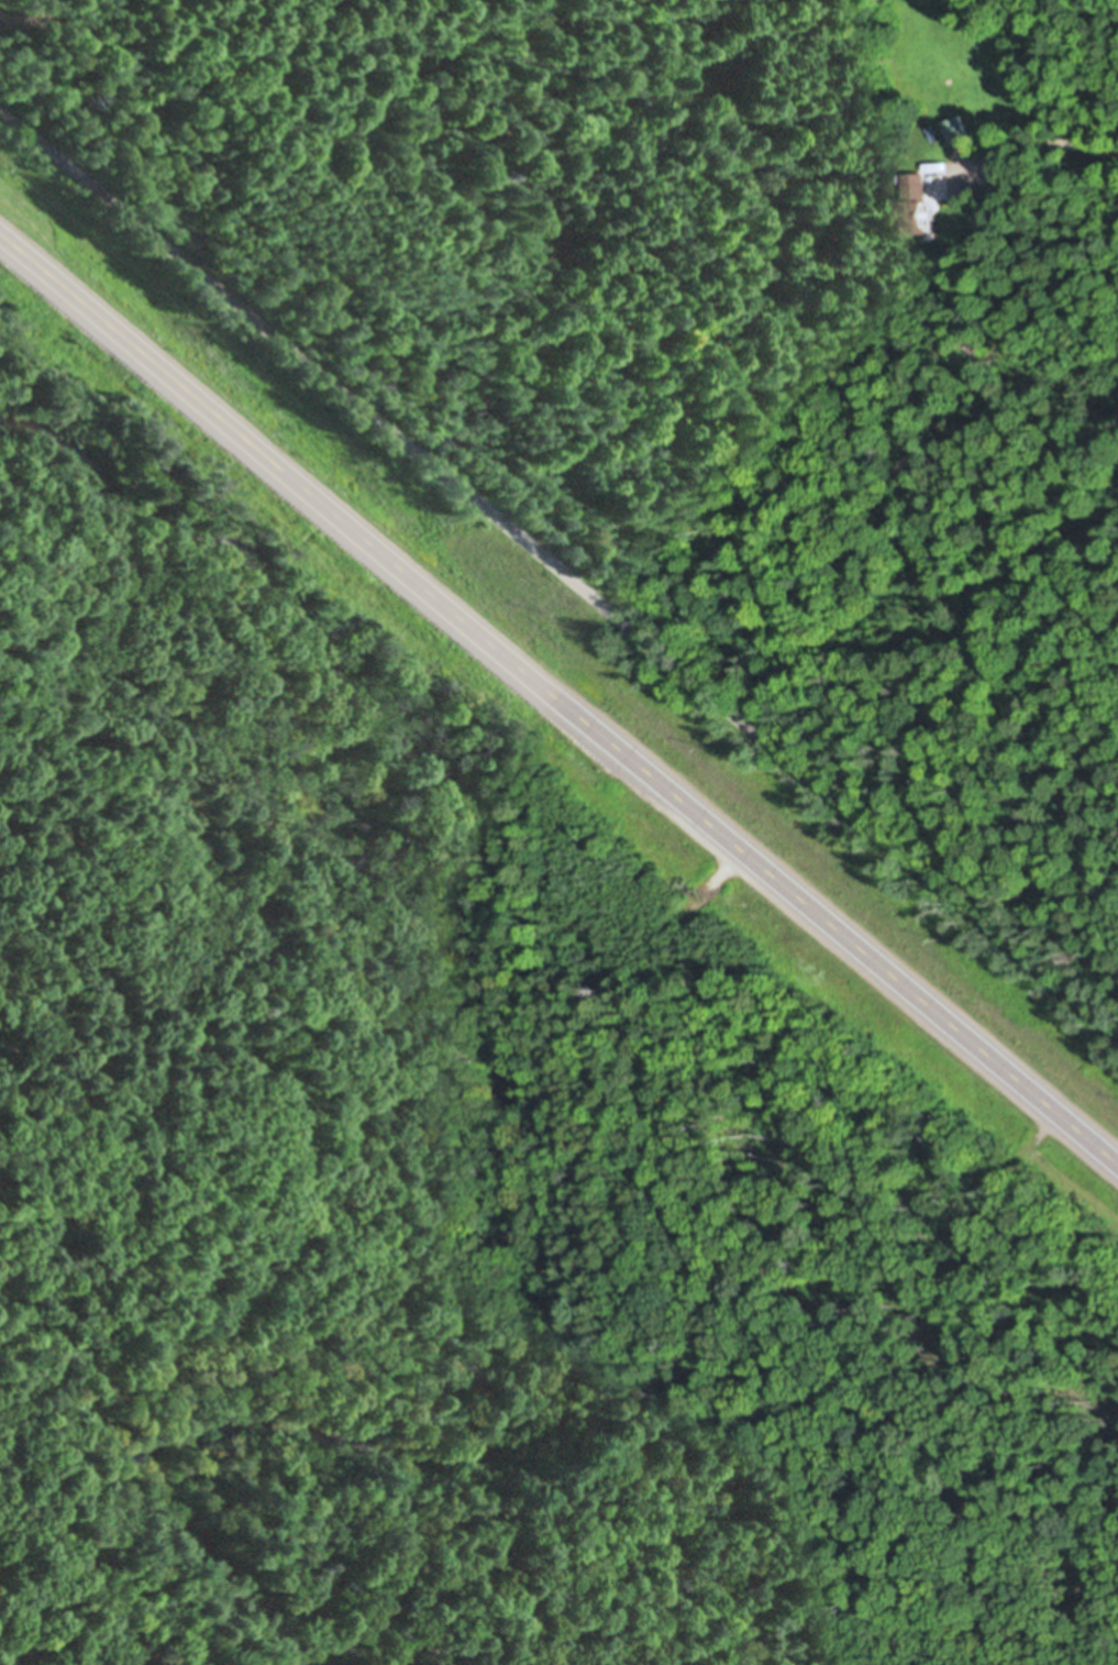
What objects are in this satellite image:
building: (956, 126)
building: (999, 188)
building: (912, 205)
road: (558, 572)
road: (558, 704)
river: (517, 1160)

